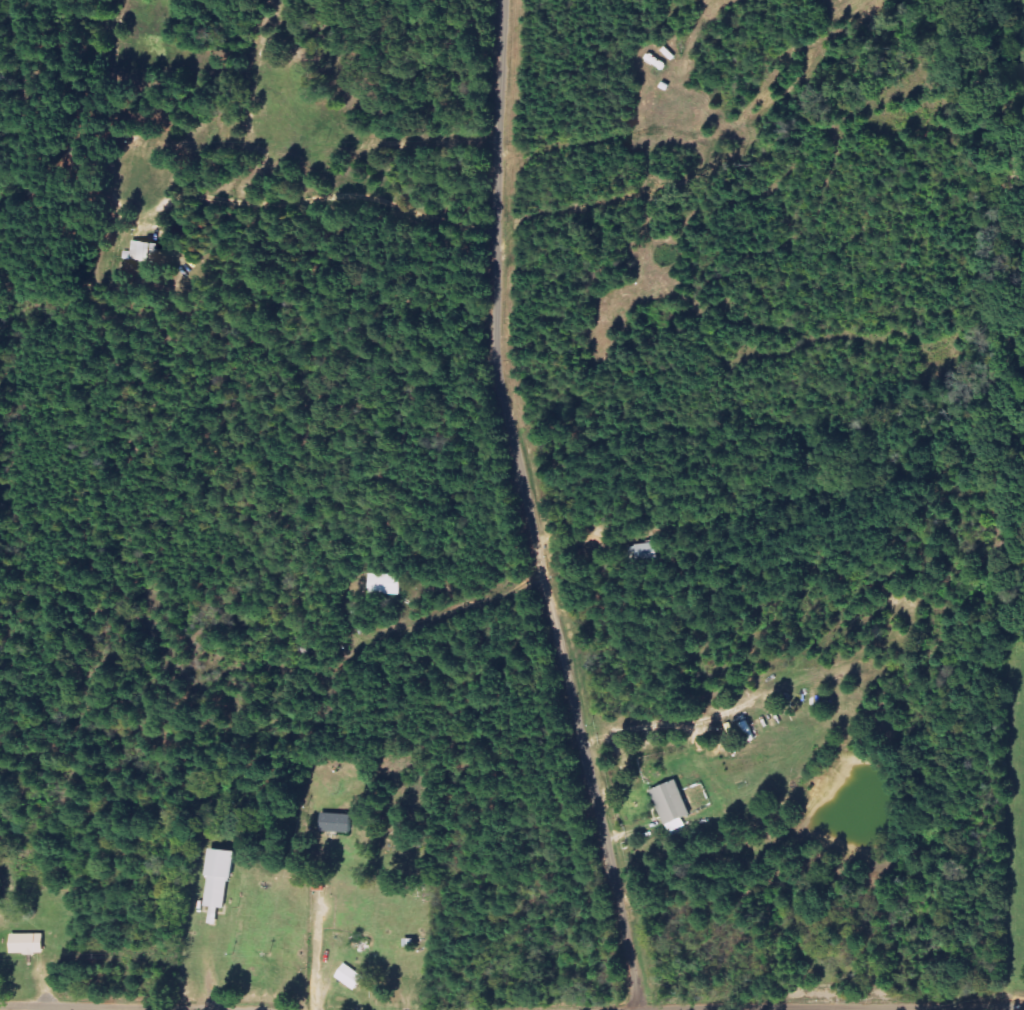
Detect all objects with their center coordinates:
road: (331, 195)
building: (142, 252)
road: (528, 509)
building: (384, 585)
building: (671, 803)
building: (336, 823)
building: (218, 880)
building: (319, 884)
road: (321, 933)
building: (28, 944)
building: (350, 977)
road: (834, 1007)

